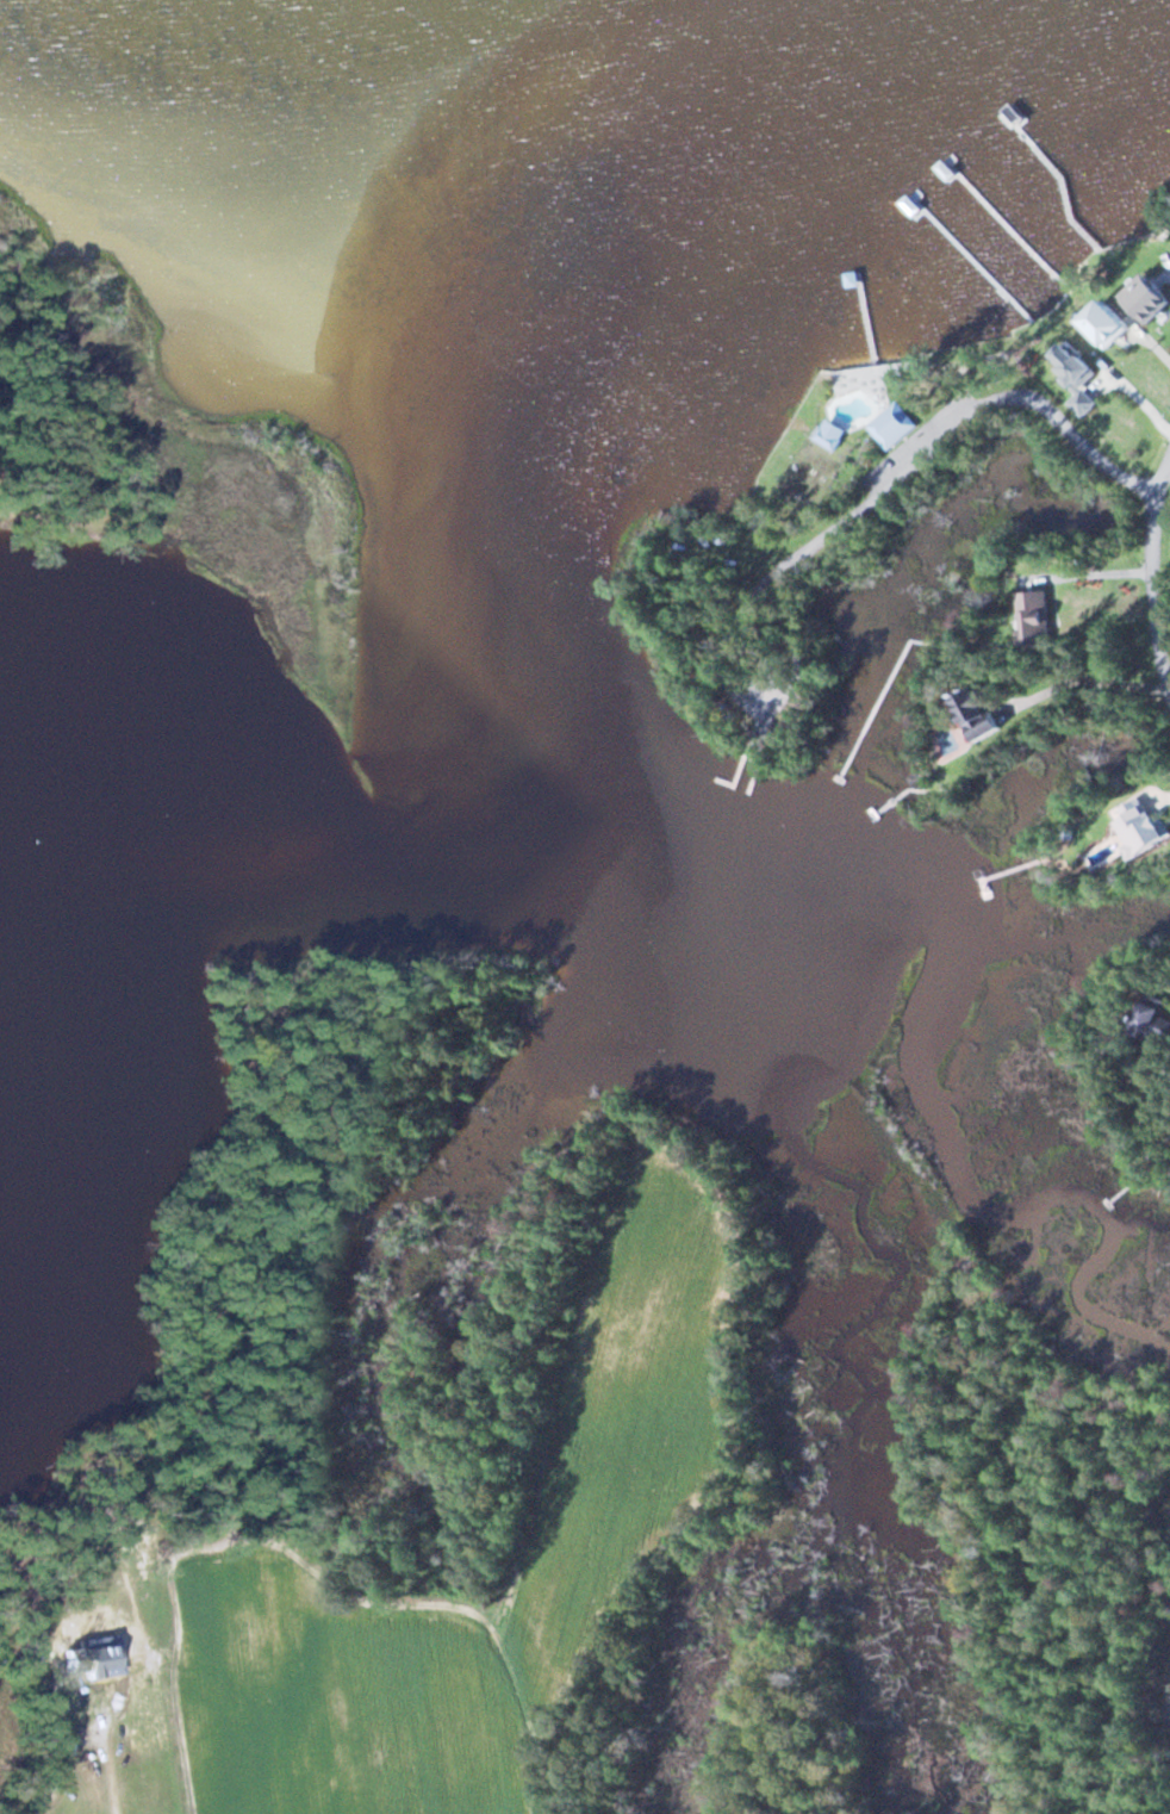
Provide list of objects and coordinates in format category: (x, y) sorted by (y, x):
building: (1153, 297)
building: (895, 425)
road: (38, 524)
road: (1156, 576)
building: (1039, 619)
building: (985, 713)
building: (1150, 1015)

